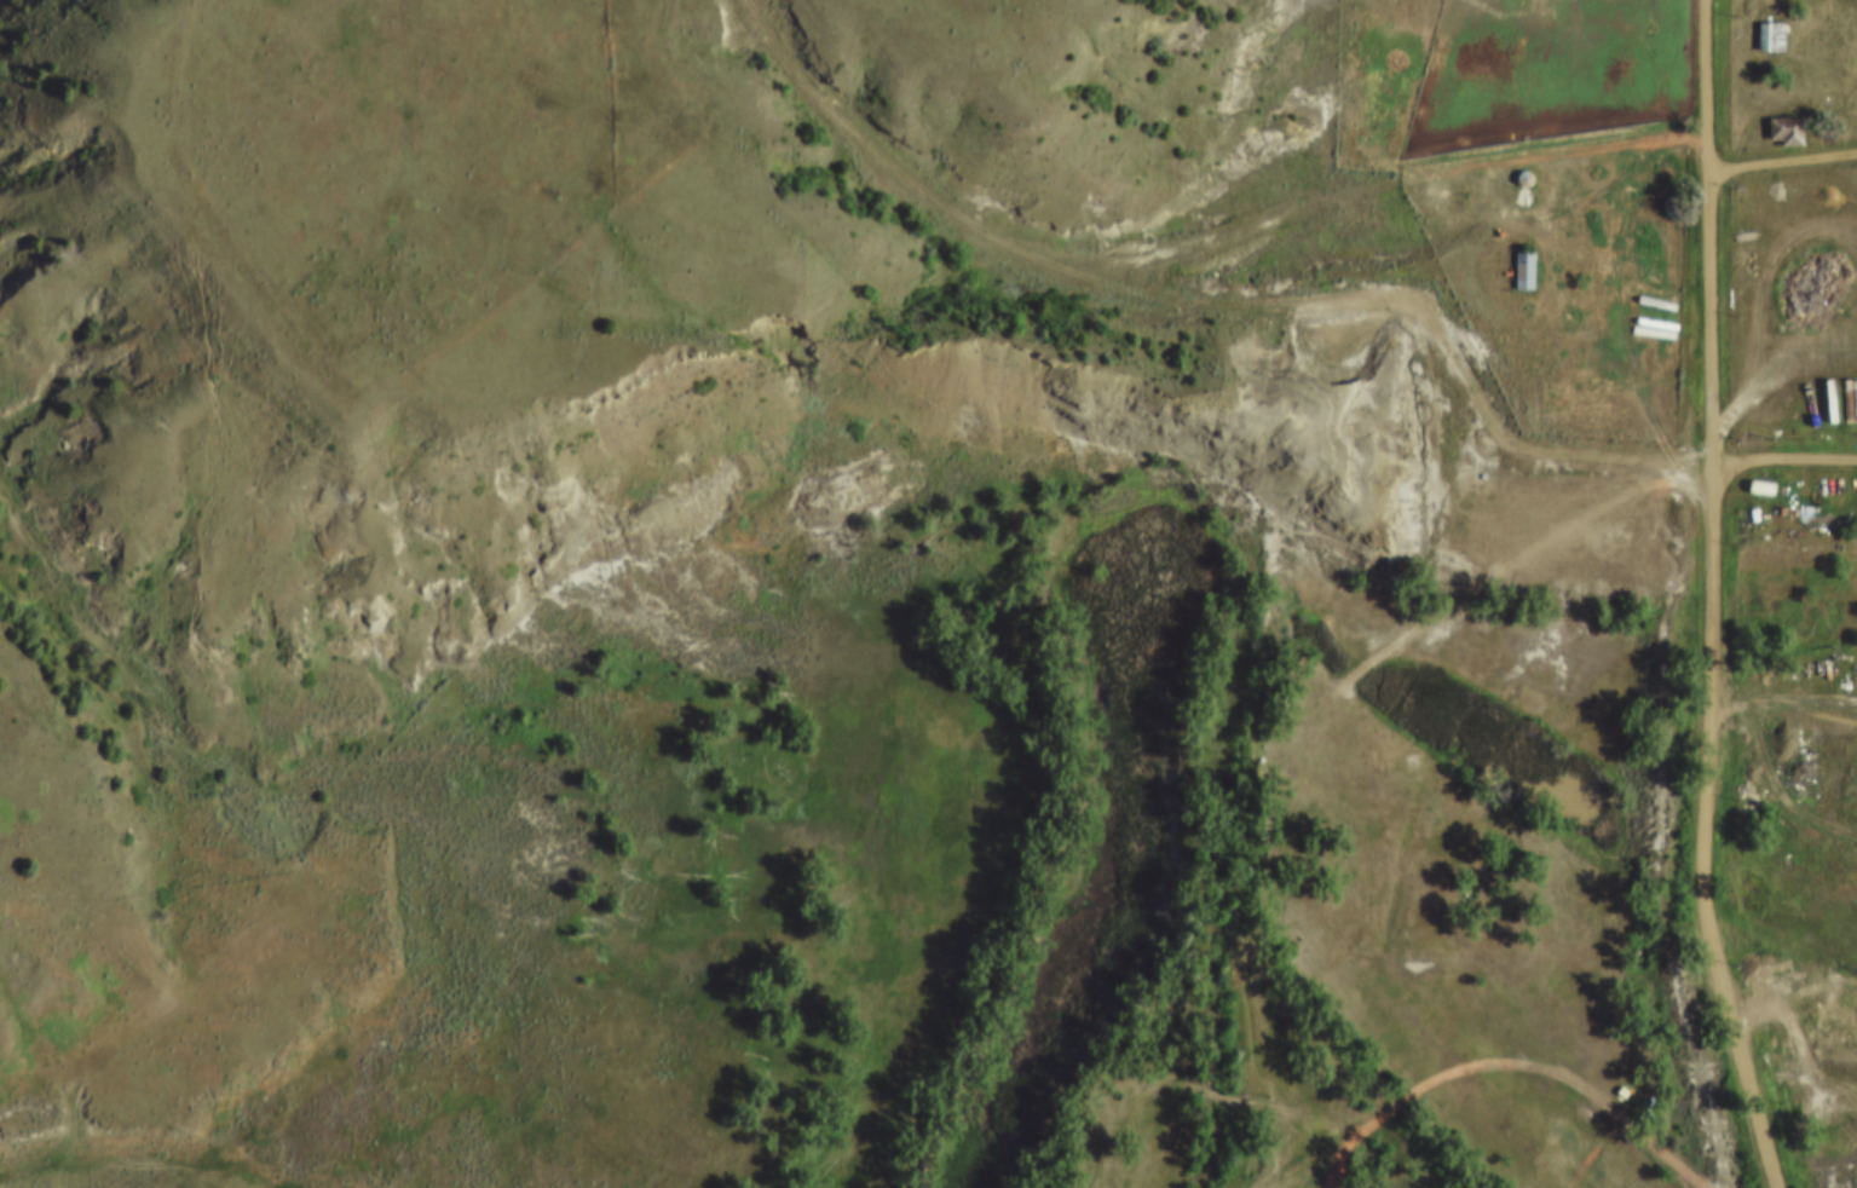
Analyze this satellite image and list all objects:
building: (1765, 21)
building: (1771, 38)
road: (1703, 69)
building: (1778, 115)
building: (1786, 133)
road: (1781, 161)
building: (1516, 163)
silo: (1516, 163)
building: (1517, 183)
silo: (1517, 183)
building: (1515, 255)
road: (1181, 259)
building: (1524, 273)
road: (1429, 373)
road: (1783, 459)
building: (1760, 489)
road: (1711, 668)
road: (1492, 1065)
building: (1614, 1077)

